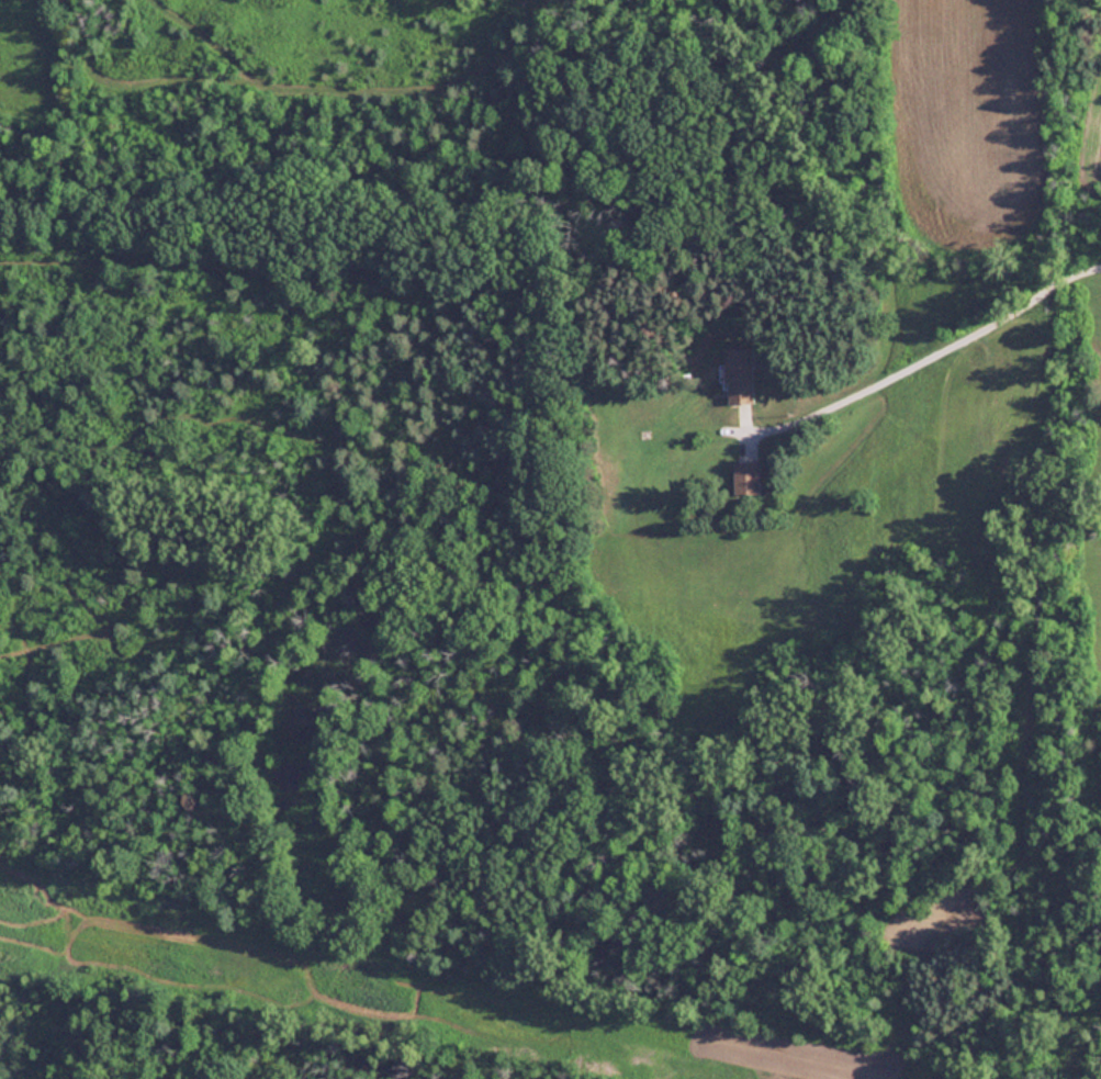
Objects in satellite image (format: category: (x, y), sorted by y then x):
road: (923, 347)
building: (738, 374)
building: (745, 477)

